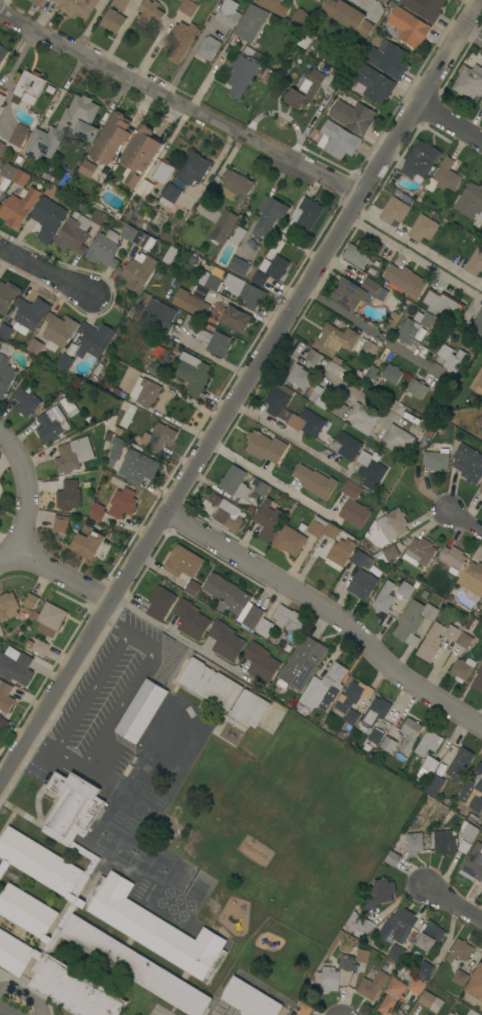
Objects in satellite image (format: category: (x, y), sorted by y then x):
building: (180, 0)
building: (382, 1)
building: (36, 2)
building: (121, 3)
building: (274, 6)
building: (188, 7)
building: (76, 8)
building: (425, 8)
building: (149, 12)
building: (228, 13)
building: (348, 16)
building: (301, 17)
building: (113, 20)
building: (251, 23)
road: (89, 26)
building: (409, 26)
building: (305, 38)
road: (473, 38)
building: (181, 40)
building: (208, 48)
building: (2, 53)
building: (388, 59)
road: (210, 74)
building: (242, 74)
road: (9, 79)
building: (469, 81)
building: (372, 83)
building: (27, 87)
building: (305, 91)
building: (1, 99)
road: (179, 104)
building: (481, 105)
building: (481, 106)
building: (1, 108)
building: (353, 116)
road: (449, 122)
road: (309, 124)
building: (66, 128)
building: (19, 135)
building: (112, 139)
building: (338, 140)
building: (2, 147)
building: (139, 156)
building: (420, 160)
building: (87, 168)
building: (194, 168)
building: (8, 170)
building: (163, 172)
building: (21, 177)
building: (444, 177)
building: (0, 184)
building: (142, 186)
building: (236, 186)
building: (170, 195)
building: (471, 202)
building: (18, 207)
building: (394, 210)
building: (309, 213)
building: (269, 215)
building: (99, 217)
building: (48, 218)
building: (223, 225)
building: (423, 228)
building: (129, 232)
building: (74, 235)
building: (238, 236)
building: (144, 240)
road: (416, 248)
building: (104, 249)
building: (356, 256)
road: (414, 258)
building: (475, 263)
building: (239, 266)
building: (277, 267)
road: (42, 270)
building: (137, 272)
building: (259, 279)
building: (405, 279)
building: (209, 281)
building: (245, 291)
building: (355, 292)
building: (7, 296)
building: (190, 303)
building: (443, 304)
building: (30, 314)
building: (158, 316)
building: (394, 316)
building: (468, 317)
building: (234, 318)
building: (423, 318)
building: (191, 323)
building: (477, 327)
road: (371, 328)
building: (5, 331)
building: (59, 331)
building: (408, 331)
building: (419, 337)
building: (429, 337)
building: (335, 339)
building: (94, 340)
building: (215, 342)
building: (35, 347)
building: (369, 349)
building: (159, 352)
building: (452, 358)
building: (66, 359)
building: (333, 368)
building: (6, 370)
building: (156, 370)
building: (193, 374)
building: (392, 374)
road: (231, 376)
building: (372, 376)
building: (300, 377)
road: (334, 381)
building: (477, 383)
road: (241, 389)
building: (417, 389)
building: (145, 391)
building: (321, 397)
building: (26, 402)
building: (279, 402)
building: (68, 404)
building: (341, 405)
building: (126, 417)
building: (363, 418)
road: (169, 420)
building: (480, 420)
building: (308, 423)
building: (52, 424)
building: (159, 437)
road: (292, 438)
building: (396, 439)
building: (345, 445)
building: (265, 447)
building: (116, 449)
building: (74, 455)
building: (436, 459)
building: (468, 463)
building: (138, 467)
building: (371, 469)
road: (270, 479)
building: (235, 482)
building: (315, 482)
building: (259, 486)
road: (25, 490)
building: (480, 490)
building: (69, 496)
building: (481, 498)
building: (122, 504)
building: (353, 506)
building: (97, 511)
building: (226, 512)
building: (267, 519)
road: (465, 521)
building: (61, 523)
building: (393, 524)
building: (316, 526)
building: (331, 530)
building: (289, 540)
building: (88, 542)
building: (340, 552)
building: (419, 552)
building: (387, 554)
building: (453, 557)
building: (361, 559)
building: (183, 563)
road: (55, 572)
building: (471, 578)
building: (362, 585)
building: (192, 588)
building: (404, 592)
building: (227, 594)
building: (384, 598)
building: (31, 601)
building: (161, 603)
building: (8, 606)
building: (480, 606)
road: (330, 612)
building: (429, 612)
building: (253, 617)
building: (50, 619)
building: (290, 619)
building: (191, 620)
road: (106, 622)
building: (409, 623)
building: (264, 627)
building: (453, 632)
road: (179, 635)
building: (465, 640)
building: (225, 641)
building: (431, 643)
building: (37, 646)
building: (286, 647)
building: (261, 662)
building: (302, 663)
building: (15, 666)
building: (462, 669)
building: (478, 680)
building: (210, 684)
building: (325, 688)
road: (90, 692)
building: (355, 693)
building: (5, 696)
building: (250, 707)
road: (121, 708)
building: (141, 711)
building: (374, 714)
building: (351, 717)
building: (3, 724)
building: (378, 732)
building: (409, 734)
road: (32, 738)
building: (428, 743)
building: (388, 744)
building: (459, 765)
building: (427, 768)
building: (434, 786)
building: (473, 789)
park: (287, 822)
building: (454, 840)
building: (407, 849)
building: (473, 863)
building: (102, 881)
building: (379, 893)
road: (453, 901)
building: (360, 924)
building: (397, 926)
building: (430, 935)
building: (27, 945)
building: (459, 952)
building: (396, 953)
building: (362, 955)
building: (426, 969)
building: (333, 974)
building: (460, 977)
building: (476, 981)
building: (373, 985)
building: (416, 986)
building: (392, 997)
building: (249, 999)
building: (431, 1002)
building: (302, 1009)
road: (5, 1011)
road: (282, 1013)
building: (472, 1013)
building: (421, 1014)
building: (427, 1014)
building: (451, 1014)

